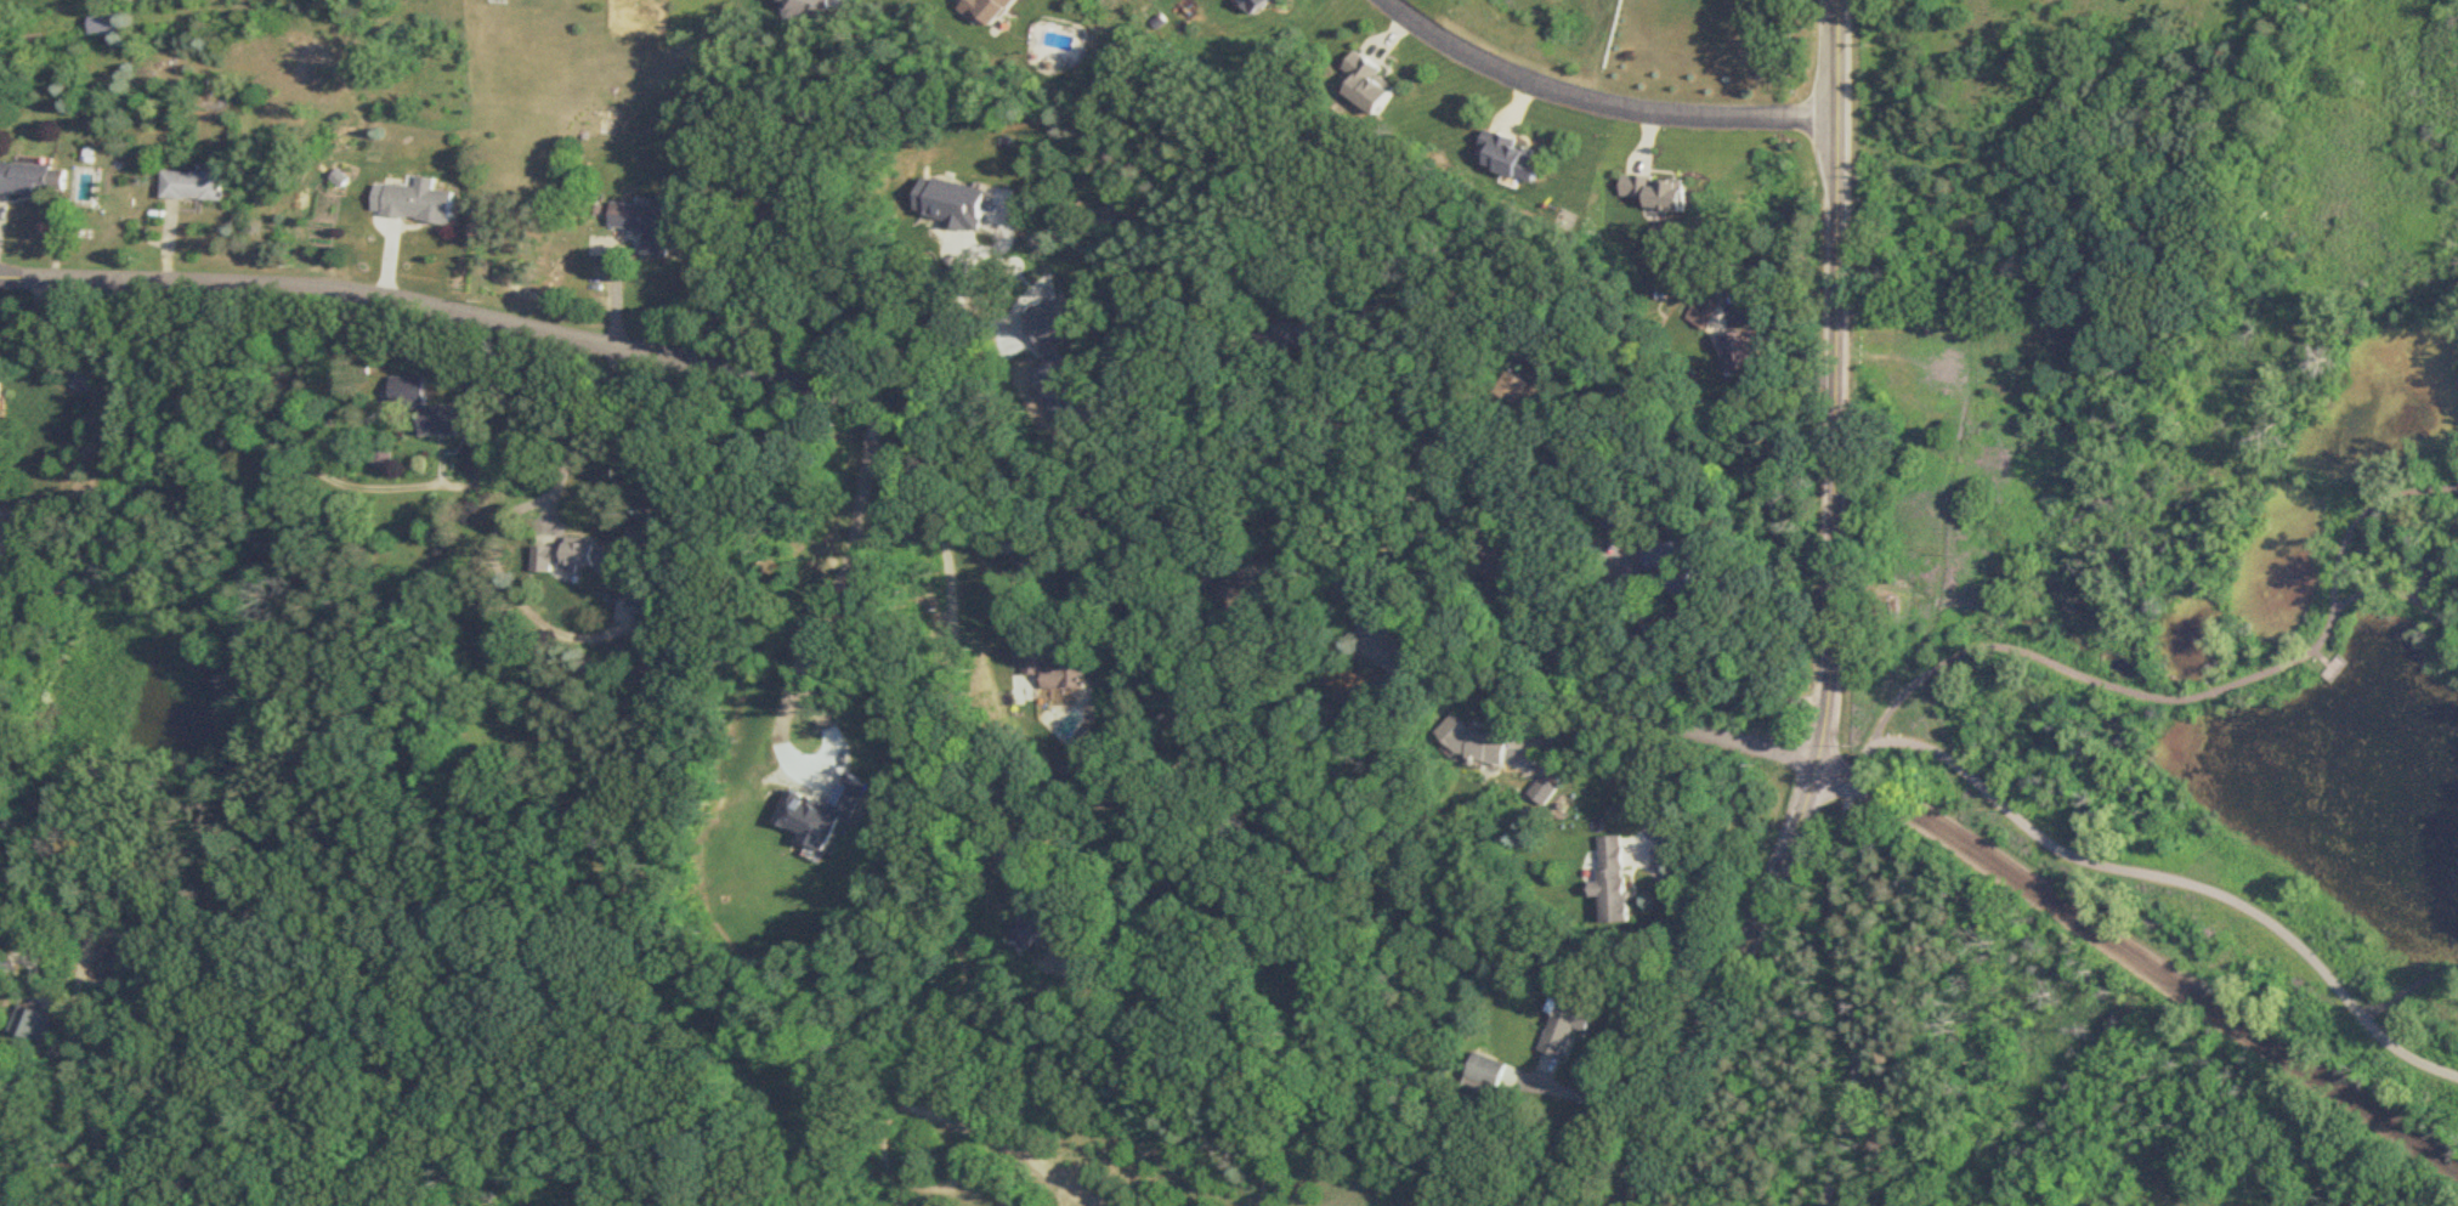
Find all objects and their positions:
building: (1253, 5)
building: (797, 9)
building: (979, 10)
building: (95, 24)
building: (1369, 84)
road: (1608, 102)
building: (1507, 157)
building: (32, 180)
building: (191, 185)
building: (418, 203)
building: (640, 219)
road: (730, 245)
building: (1703, 313)
building: (1058, 328)
building: (1296, 336)
building: (1746, 352)
road: (982, 380)
building: (1060, 390)
building: (1527, 393)
road: (939, 395)
building: (0, 398)
building: (435, 409)
road: (597, 423)
road: (1332, 429)
road: (301, 443)
road: (146, 485)
road: (2362, 515)
building: (1618, 517)
road: (1412, 534)
building: (582, 559)
road: (831, 560)
road: (2436, 561)
building: (1680, 565)
road: (1023, 577)
building: (1257, 579)
road: (1834, 624)
park: (2148, 635)
road: (2318, 653)
road: (2328, 662)
road: (952, 663)
road: (2334, 668)
building: (1059, 673)
road: (1699, 681)
road: (2173, 698)
road: (1571, 729)
building: (1478, 743)
road: (1971, 780)
building: (1615, 882)
road: (1681, 915)
building: (1036, 934)
road: (29, 945)
road: (2408, 989)
building: (29, 1025)
building: (1569, 1027)
building: (1486, 1077)
road: (1591, 1099)
park: (931, 1177)

